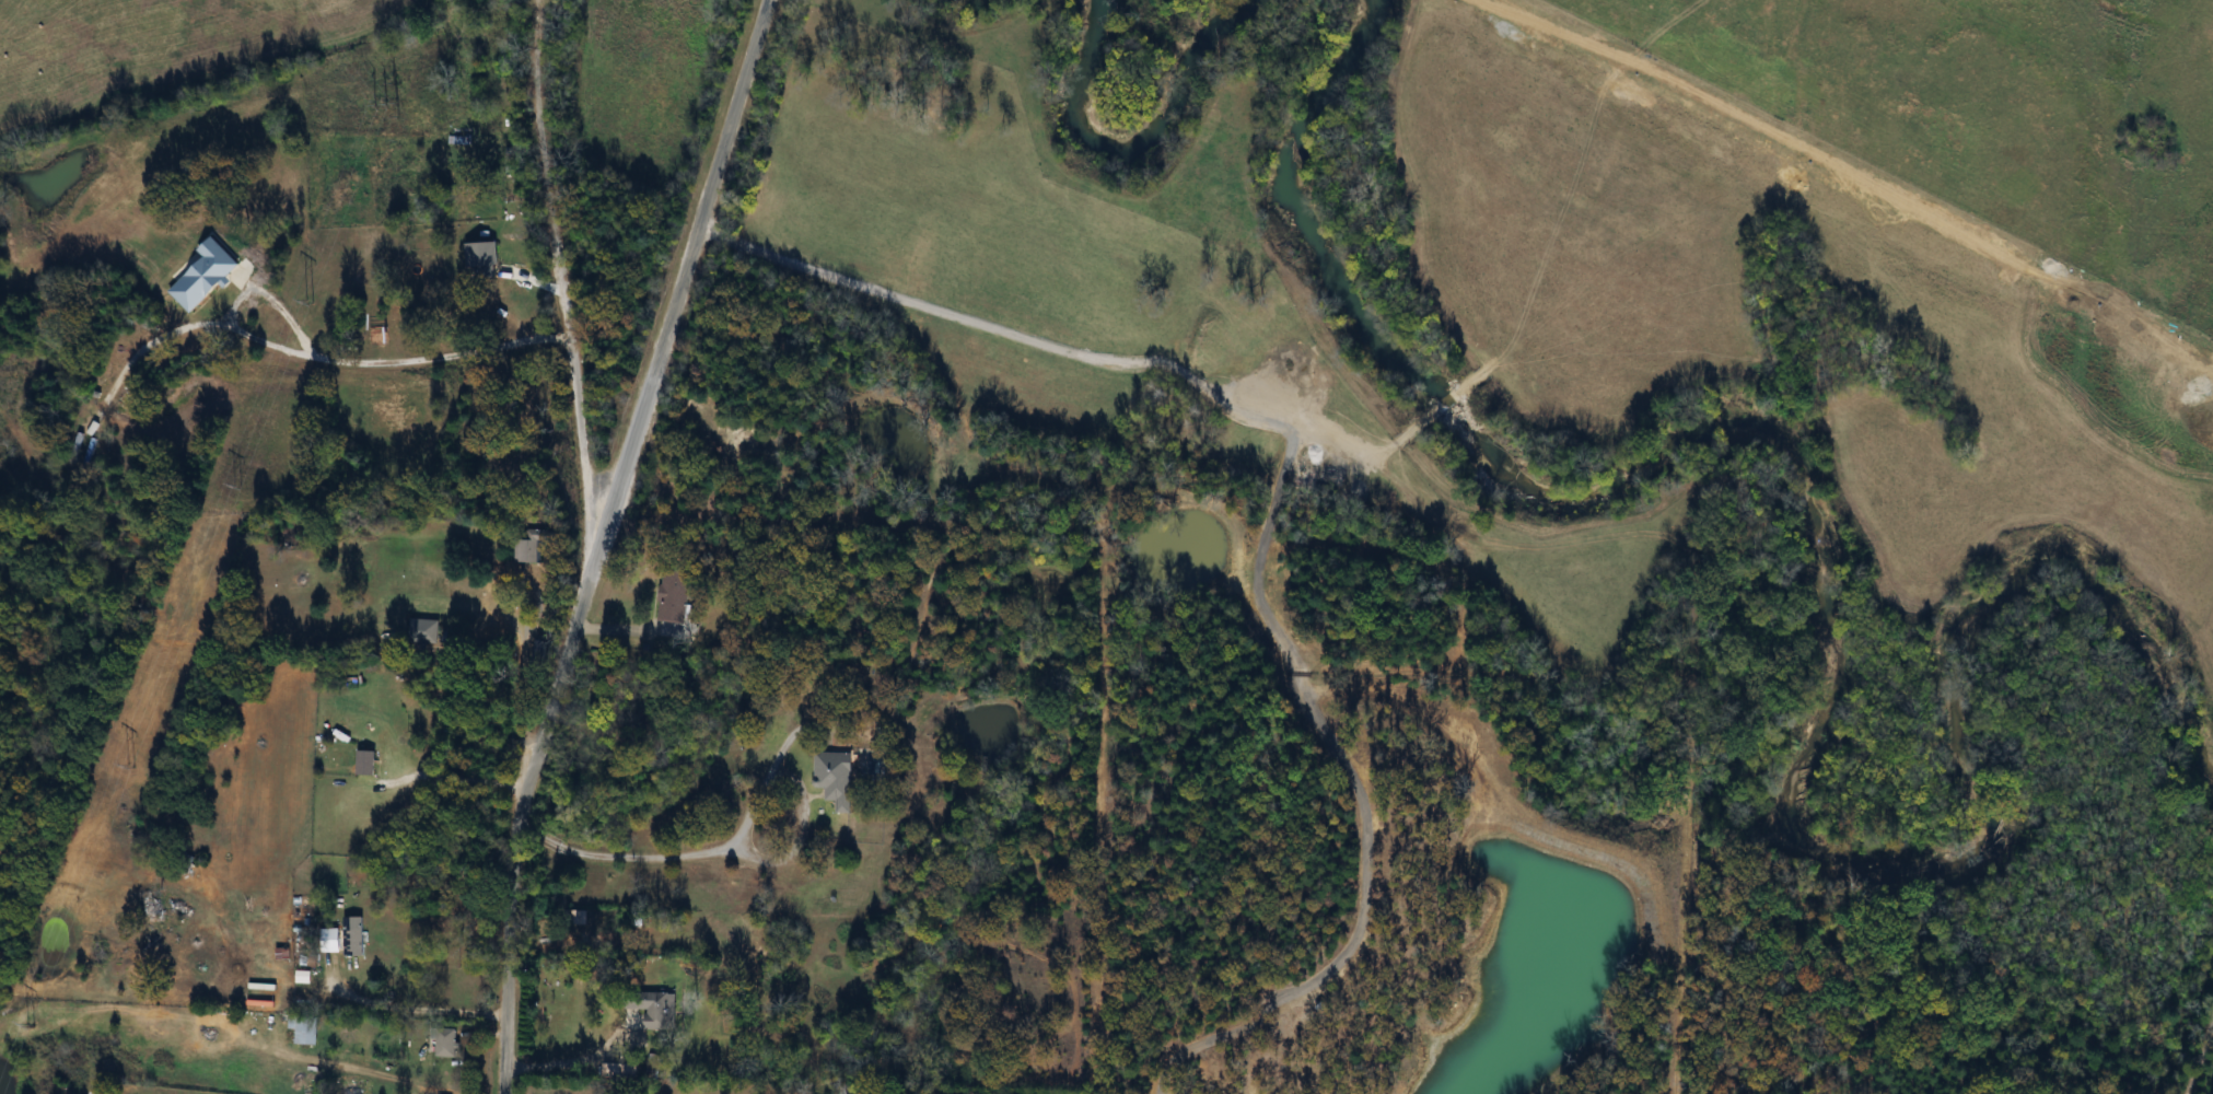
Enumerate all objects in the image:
road: (559, 271)
road: (378, 365)
road: (831, 374)
building: (126, 415)
building: (83, 444)
road: (595, 539)
building: (535, 546)
building: (674, 595)
road: (627, 625)
road: (520, 678)
building: (368, 764)
building: (837, 779)
road: (694, 854)
building: (160, 905)
building: (354, 943)
building: (661, 1010)
road: (405, 1011)
building: (304, 1031)
building: (447, 1043)
road: (574, 1061)

